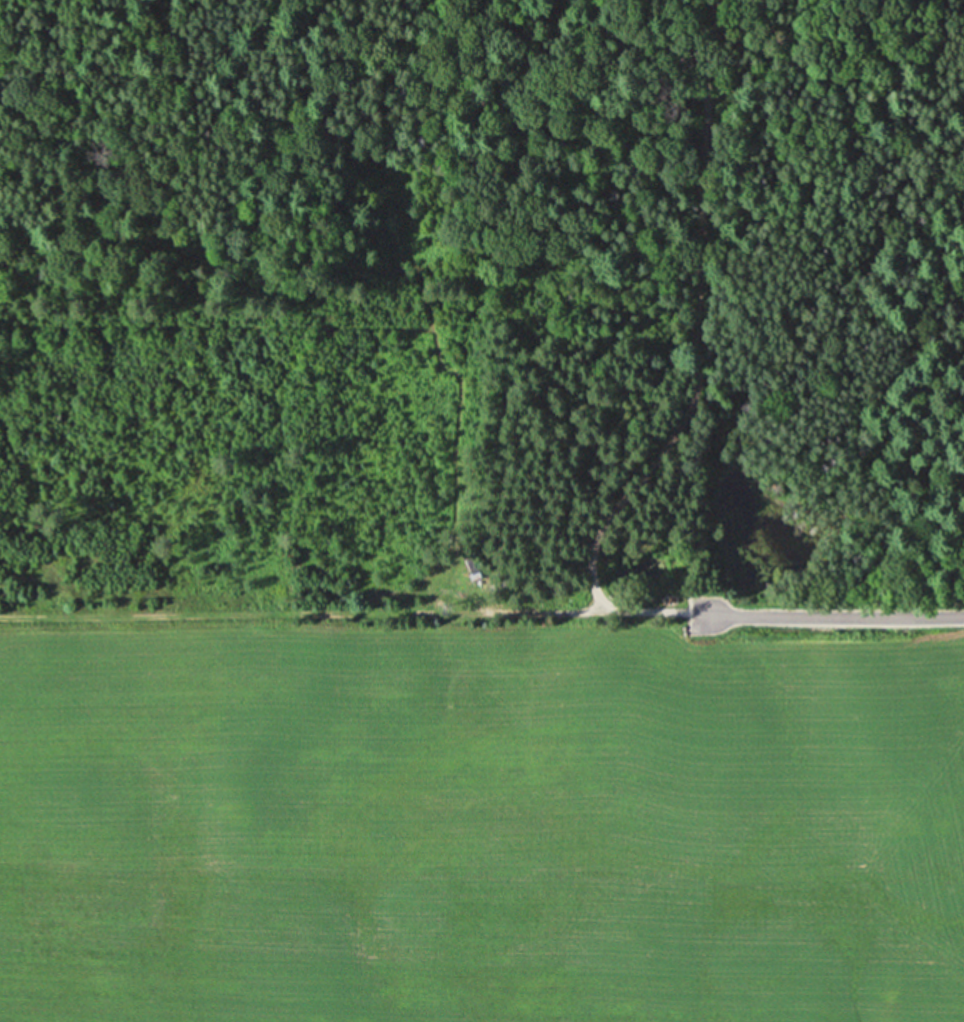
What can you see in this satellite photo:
building: (465, 565)
road: (302, 614)
road: (634, 614)
road: (879, 616)

